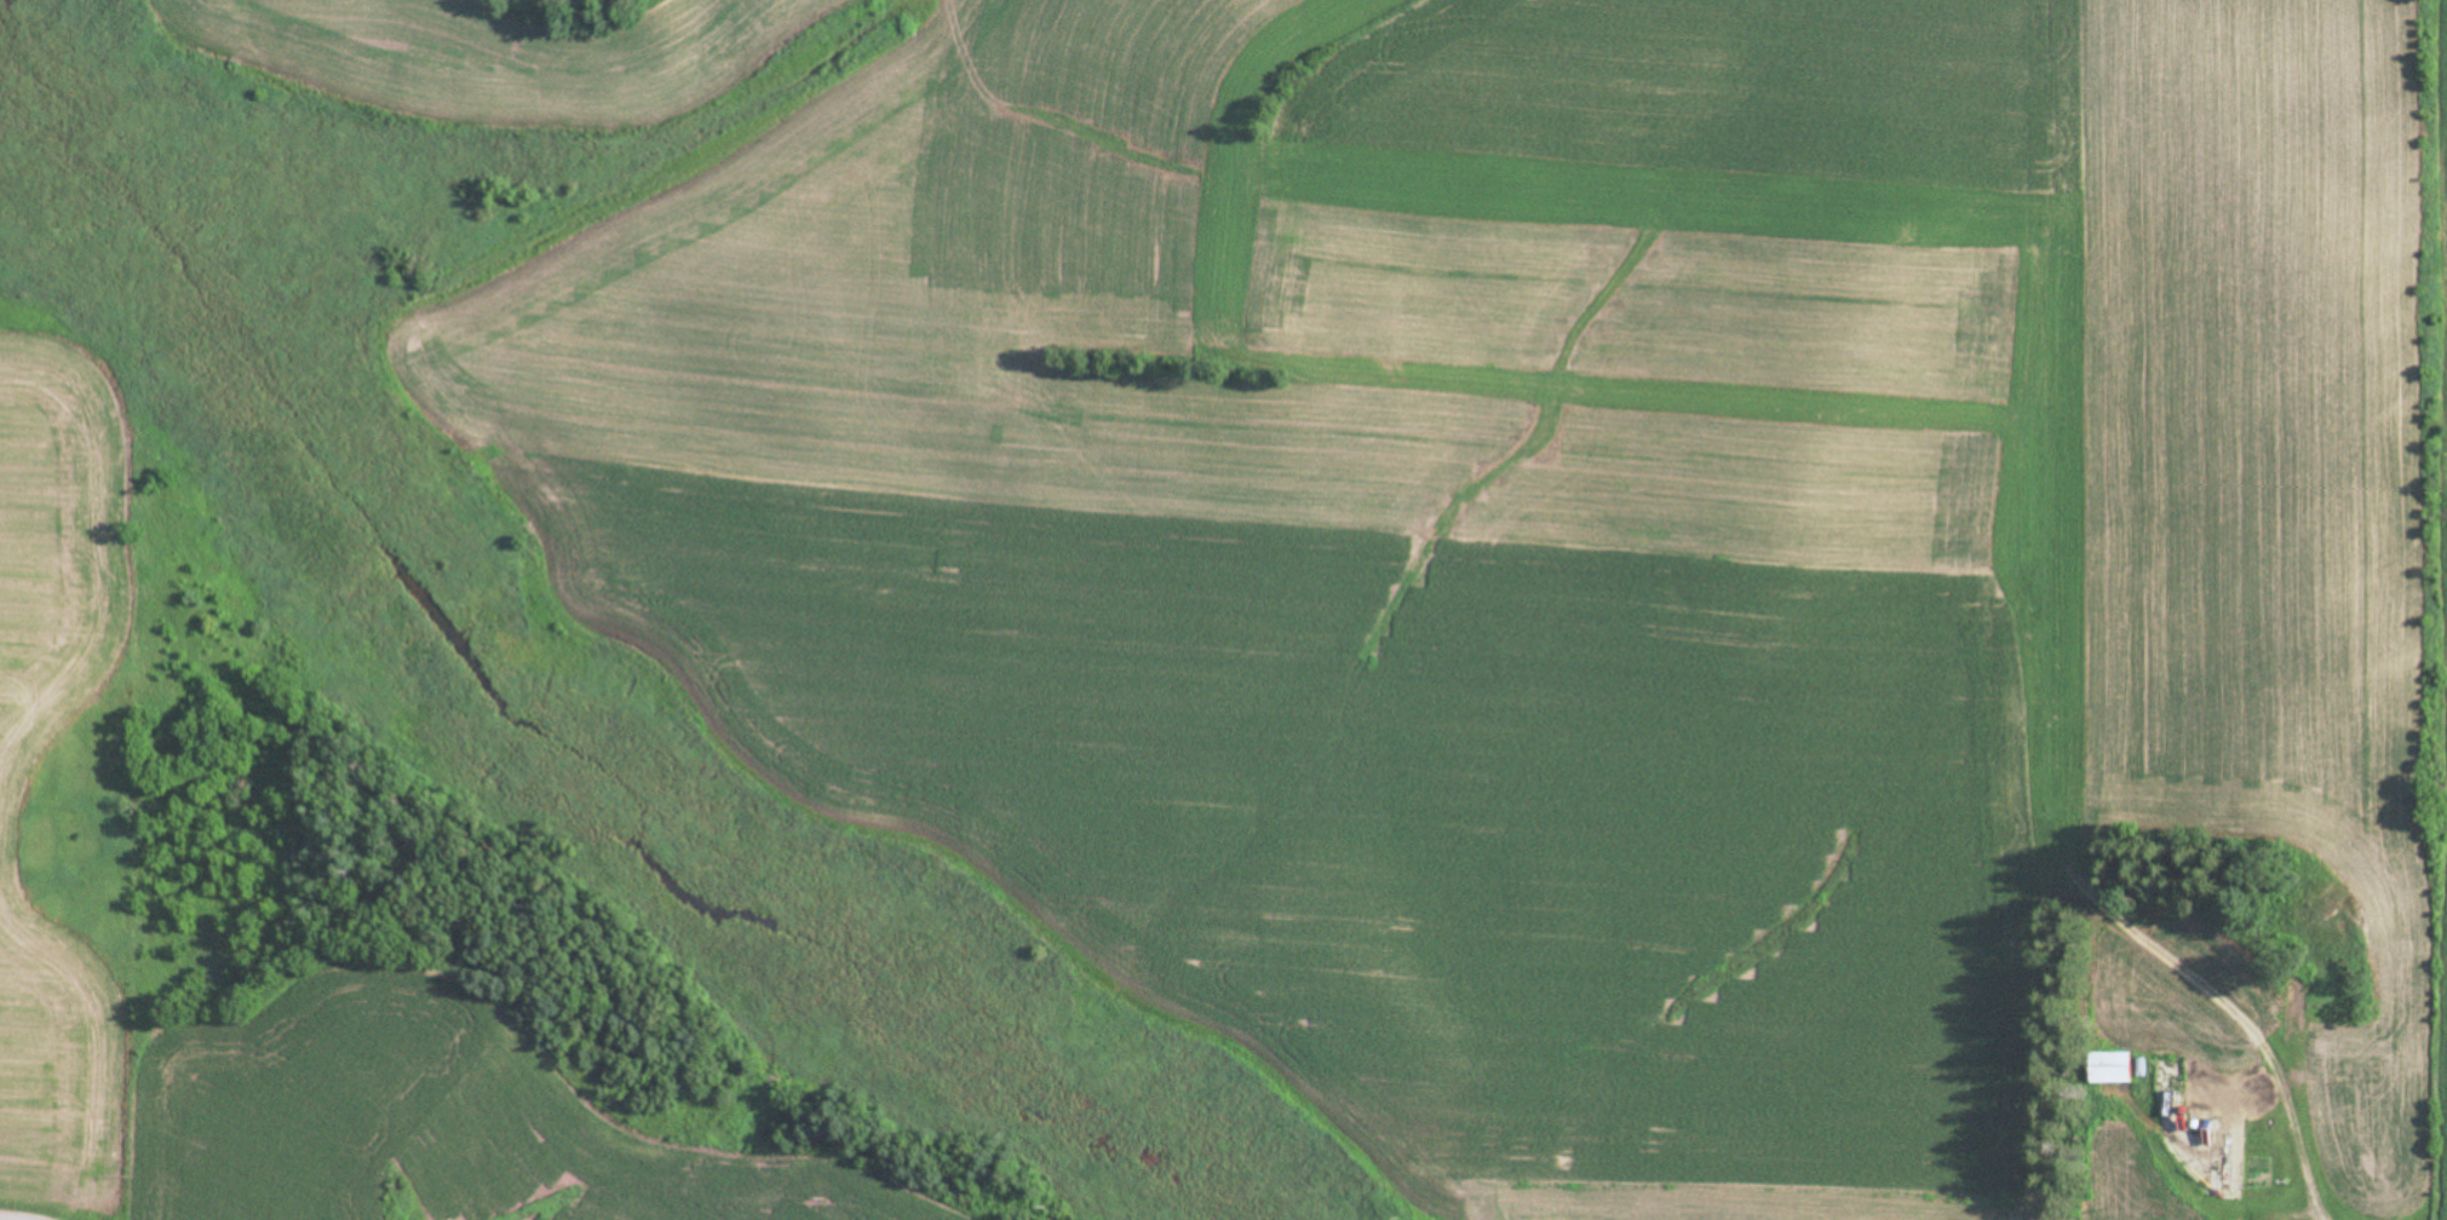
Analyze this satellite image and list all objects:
building: (2108, 1070)
building: (2201, 1089)
road: (2304, 1166)
road: (22, 1202)

